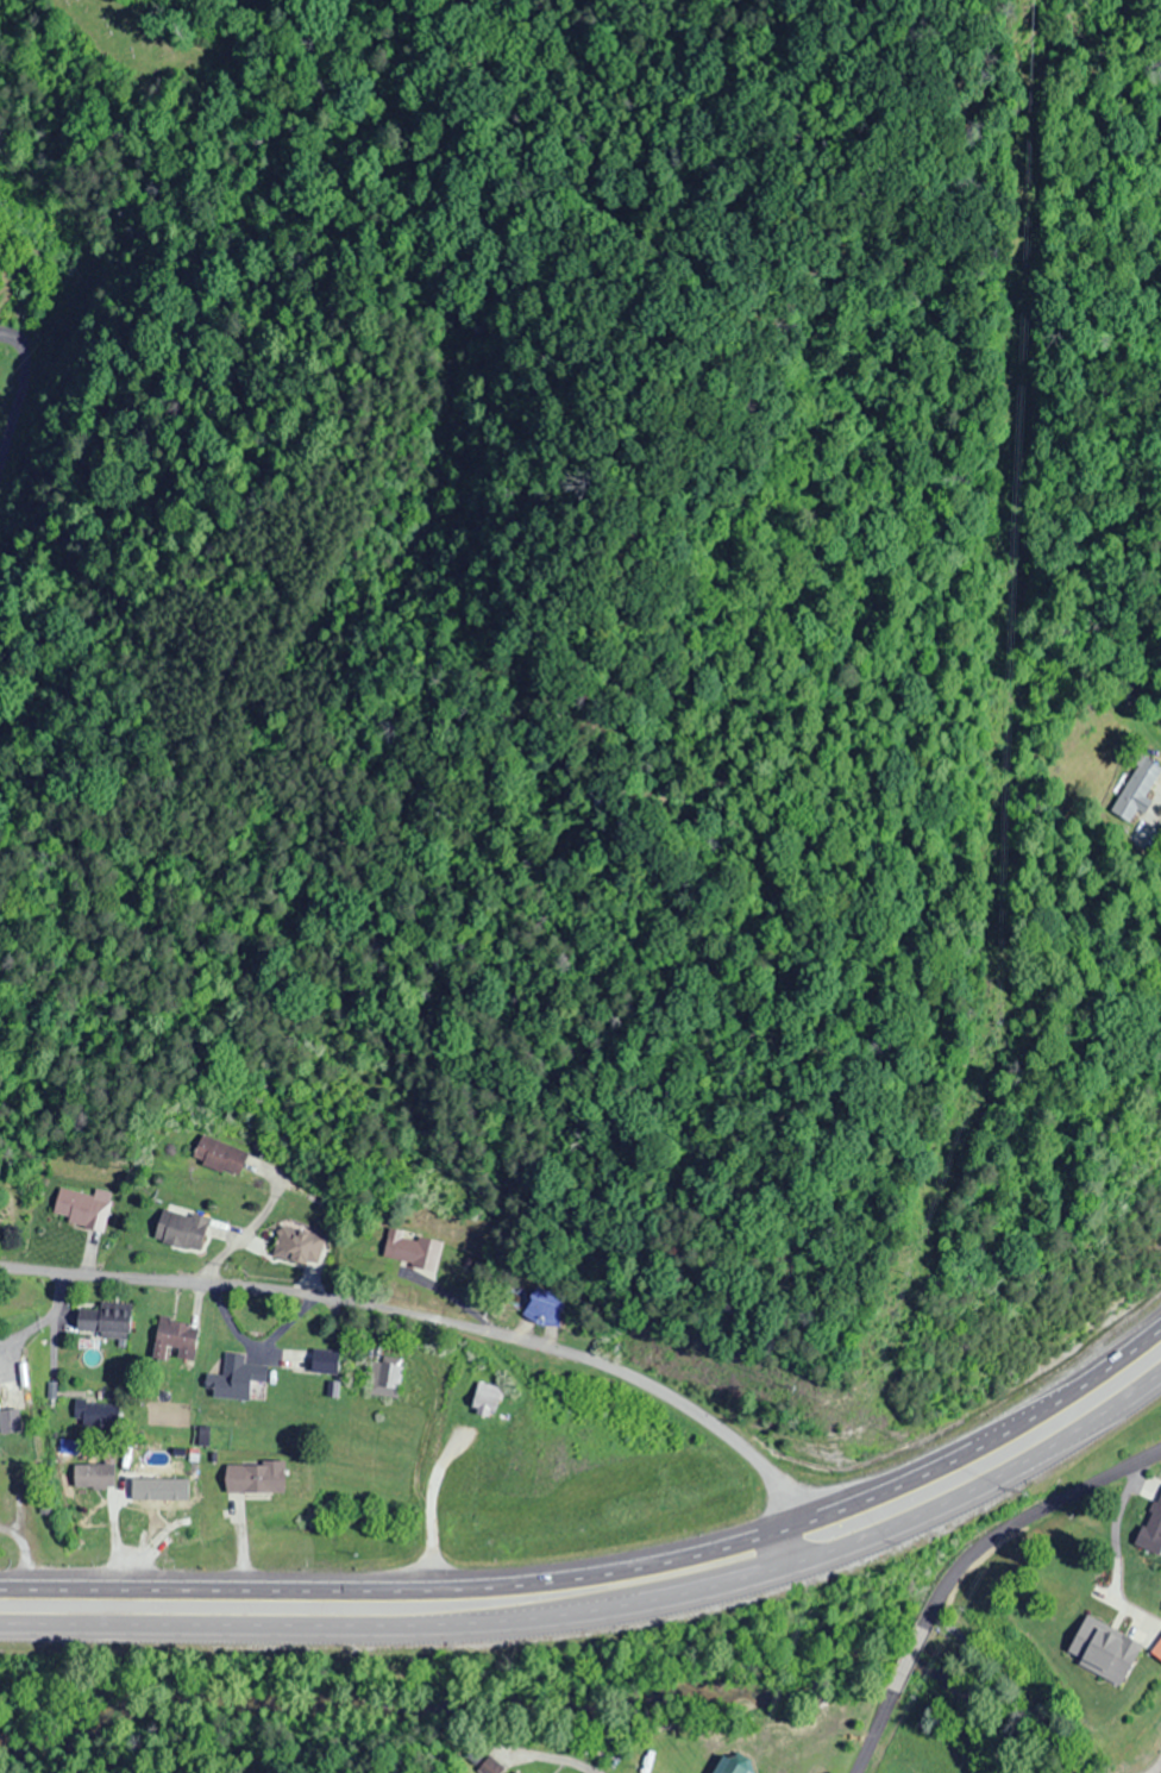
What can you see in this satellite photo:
building: (1135, 789)
building: (215, 1154)
building: (81, 1207)
building: (177, 1228)
building: (296, 1243)
building: (409, 1248)
building: (541, 1305)
building: (100, 1321)
road: (452, 1322)
building: (171, 1341)
building: (231, 1378)
building: (382, 1378)
building: (483, 1398)
building: (94, 1414)
building: (7, 1421)
building: (92, 1476)
building: (251, 1477)
building: (157, 1491)
building: (1150, 1529)
road: (955, 1562)
road: (609, 1565)
building: (1052, 1596)
road: (607, 1616)
building: (1155, 1649)
building: (1160, 1731)
building: (646, 1762)
building: (490, 1766)
building: (727, 1766)
building: (516, 1771)

